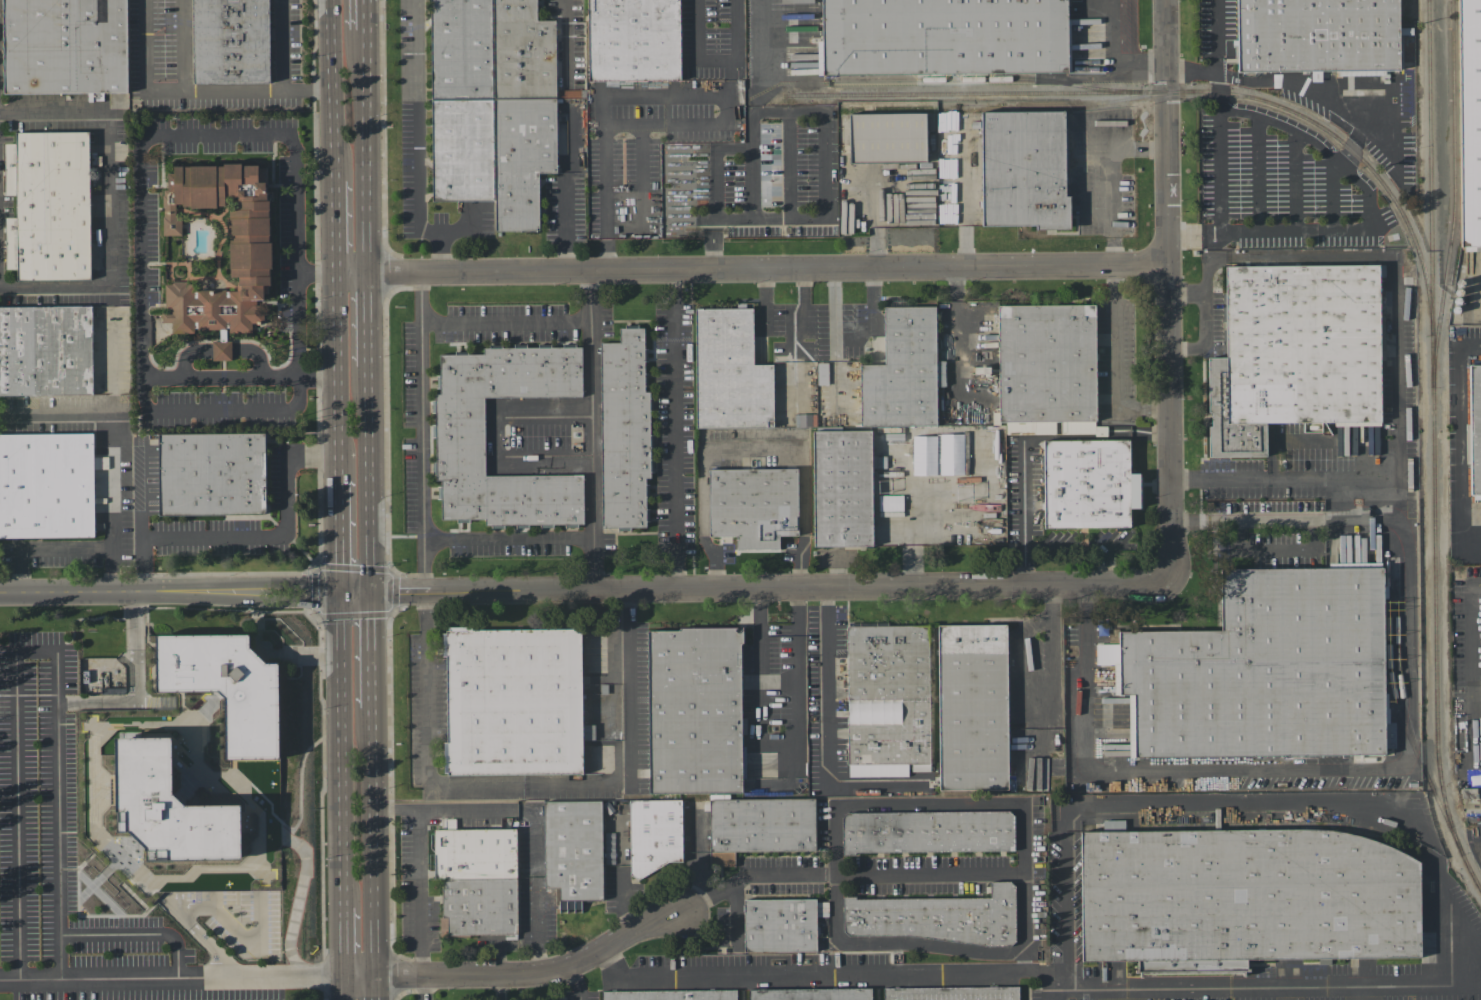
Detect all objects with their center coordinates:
road: (363, 14)
building: (1317, 35)
building: (942, 36)
road: (1212, 37)
road: (565, 40)
building: (633, 40)
building: (230, 41)
road: (780, 41)
road: (185, 45)
road: (282, 45)
building: (64, 46)
road: (1113, 59)
road: (715, 63)
road: (1189, 74)
road: (727, 79)
railway: (985, 79)
road: (333, 89)
road: (194, 90)
railway: (1180, 91)
road: (651, 96)
building: (492, 105)
building: (1469, 120)
building: (887, 136)
road: (417, 142)
road: (365, 151)
road: (751, 152)
road: (790, 162)
road: (828, 166)
building: (1023, 168)
road: (641, 173)
road: (1220, 174)
road: (1114, 182)
road: (565, 190)
railway: (1453, 194)
road: (107, 201)
road: (1370, 203)
building: (48, 205)
road: (336, 227)
road: (876, 229)
road: (456, 231)
road: (965, 235)
road: (714, 238)
road: (710, 239)
building: (1471, 248)
building: (248, 256)
road: (712, 257)
road: (1209, 258)
road: (140, 269)
road: (752, 269)
road: (1392, 277)
road: (1168, 291)
road: (367, 319)
road: (505, 324)
road: (297, 326)
road: (337, 326)
road: (1204, 336)
building: (45, 350)
building: (221, 350)
building: (1293, 352)
road: (1117, 360)
building: (1046, 368)
building: (729, 371)
building: (903, 371)
road: (318, 378)
building: (805, 419)
road: (339, 426)
building: (623, 429)
road: (674, 429)
road: (591, 430)
building: (1474, 430)
road: (423, 431)
road: (496, 434)
road: (1022, 437)
building: (458, 442)
road: (1462, 446)
road: (752, 448)
railway: (1432, 449)
road: (109, 450)
building: (951, 454)
building: (924, 455)
building: (211, 473)
road: (369, 476)
building: (1088, 483)
building: (46, 484)
building: (841, 487)
building: (890, 503)
building: (752, 505)
road: (1394, 514)
road: (1281, 521)
road: (909, 525)
road: (340, 532)
road: (253, 538)
road: (509, 540)
road: (43, 548)
road: (1065, 549)
road: (1107, 567)
traffic signals: (342, 589)
traffic signals: (371, 589)
road: (582, 589)
road: (390, 613)
road: (1053, 646)
road: (371, 648)
road: (1474, 668)
building: (1263, 669)
road: (16, 678)
building: (226, 686)
building: (887, 699)
building: (513, 701)
building: (972, 707)
building: (694, 709)
railway: (1407, 713)
railway: (1403, 721)
road: (826, 727)
road: (779, 745)
road: (343, 748)
road: (1149, 769)
road: (529, 783)
building: (538, 784)
building: (569, 788)
building: (170, 806)
road: (321, 807)
road: (529, 814)
building: (758, 825)
building: (689, 829)
building: (927, 831)
road: (1480, 832)
building: (654, 834)
road: (373, 843)
road: (58, 844)
building: (572, 850)
road: (1022, 870)
road: (851, 874)
building: (476, 879)
road: (420, 892)
building: (1246, 896)
road: (192, 905)
road: (1449, 905)
road: (1064, 907)
road: (736, 910)
building: (932, 916)
building: (779, 925)
road: (139, 933)
road: (346, 944)
road: (831, 970)
road: (524, 972)
road: (575, 981)
road: (173, 983)
road: (422, 988)
road: (375, 989)
road: (347, 990)
building: (810, 993)
building: (951, 993)
building: (669, 994)

